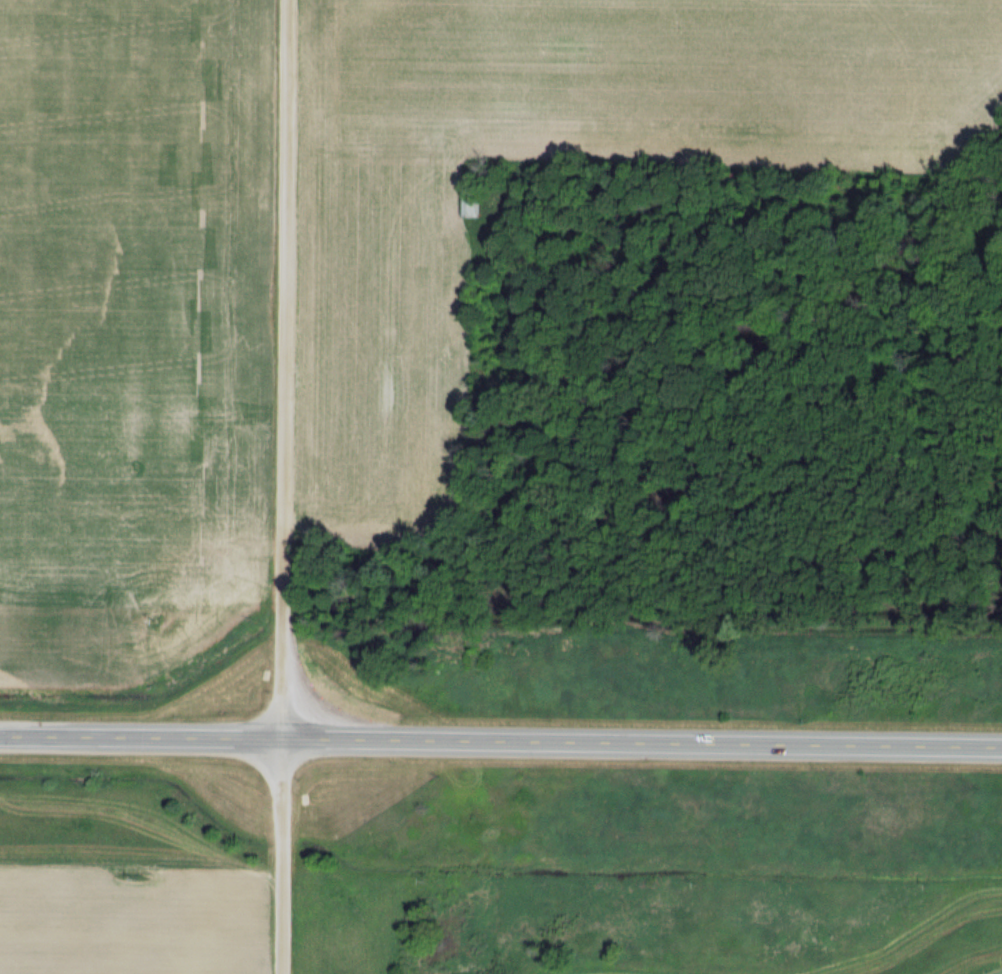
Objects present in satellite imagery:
building: (471, 201)
road: (281, 486)
road: (501, 735)

